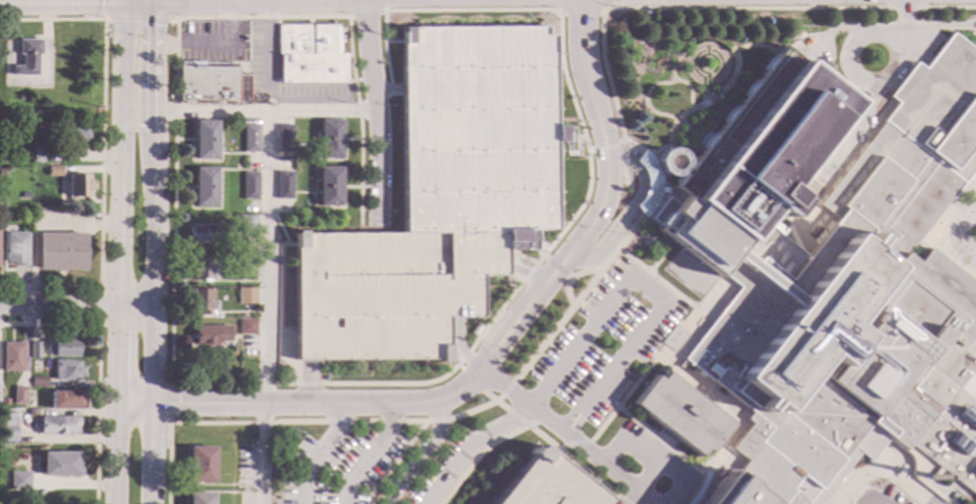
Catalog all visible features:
road: (718, 7)
road: (581, 8)
road: (167, 9)
road: (366, 12)
building: (646, 13)
road: (904, 14)
road: (183, 17)
road: (560, 17)
road: (173, 18)
road: (126, 19)
road: (931, 27)
road: (828, 33)
road: (854, 38)
road: (393, 41)
road: (214, 43)
road: (715, 44)
building: (311, 53)
road: (269, 56)
building: (27, 57)
road: (734, 59)
building: (211, 81)
road: (389, 89)
road: (646, 99)
road: (691, 106)
road: (376, 108)
road: (264, 112)
building: (72, 129)
building: (284, 137)
building: (251, 138)
building: (330, 138)
road: (843, 138)
building: (205, 139)
road: (605, 148)
road: (102, 149)
building: (40, 154)
building: (668, 161)
building: (54, 170)
road: (840, 170)
road: (654, 173)
building: (647, 183)
building: (250, 184)
building: (284, 184)
building: (78, 185)
building: (329, 185)
building: (204, 186)
building: (24, 194)
building: (440, 199)
parking lot: (440, 199)
road: (152, 201)
road: (601, 202)
road: (629, 210)
building: (247, 223)
road: (278, 223)
building: (205, 232)
road: (928, 232)
road: (956, 233)
road: (651, 247)
building: (15, 249)
building: (61, 250)
road: (120, 250)
road: (520, 256)
building: (247, 264)
road: (557, 267)
building: (200, 268)
road: (525, 272)
road: (528, 272)
road: (513, 275)
road: (571, 277)
building: (835, 277)
road: (657, 279)
building: (246, 295)
road: (578, 297)
building: (201, 301)
road: (99, 304)
road: (660, 306)
road: (264, 307)
road: (76, 309)
road: (279, 309)
road: (687, 322)
building: (246, 326)
building: (476, 330)
building: (210, 334)
parking lot: (606, 339)
building: (62, 346)
road: (459, 346)
building: (35, 349)
road: (971, 350)
road: (453, 353)
building: (12, 357)
road: (98, 365)
building: (68, 369)
building: (39, 381)
road: (307, 383)
road: (475, 383)
road: (415, 384)
road: (504, 386)
building: (18, 395)
building: (67, 399)
road: (622, 399)
building: (5, 401)
road: (134, 404)
road: (170, 404)
road: (499, 404)
road: (321, 405)
road: (721, 409)
building: (32, 411)
building: (680, 413)
road: (292, 421)
building: (59, 425)
road: (530, 427)
building: (8, 429)
road: (660, 440)
road: (572, 443)
road: (470, 446)
road: (316, 452)
road: (614, 453)
road: (149, 454)
road: (368, 455)
road: (422, 456)
road: (396, 460)
road: (659, 462)
building: (61, 464)
building: (200, 464)
parking lot: (372, 468)
road: (606, 468)
road: (885, 468)
road: (647, 477)
building: (21, 480)
building: (547, 483)
parking lot: (547, 483)
road: (837, 486)
road: (697, 489)
building: (697, 490)
building: (732, 491)
road: (859, 495)
road: (684, 496)
building: (199, 497)
parking lot: (894, 497)
road: (631, 498)
road: (872, 498)
road: (838, 499)

